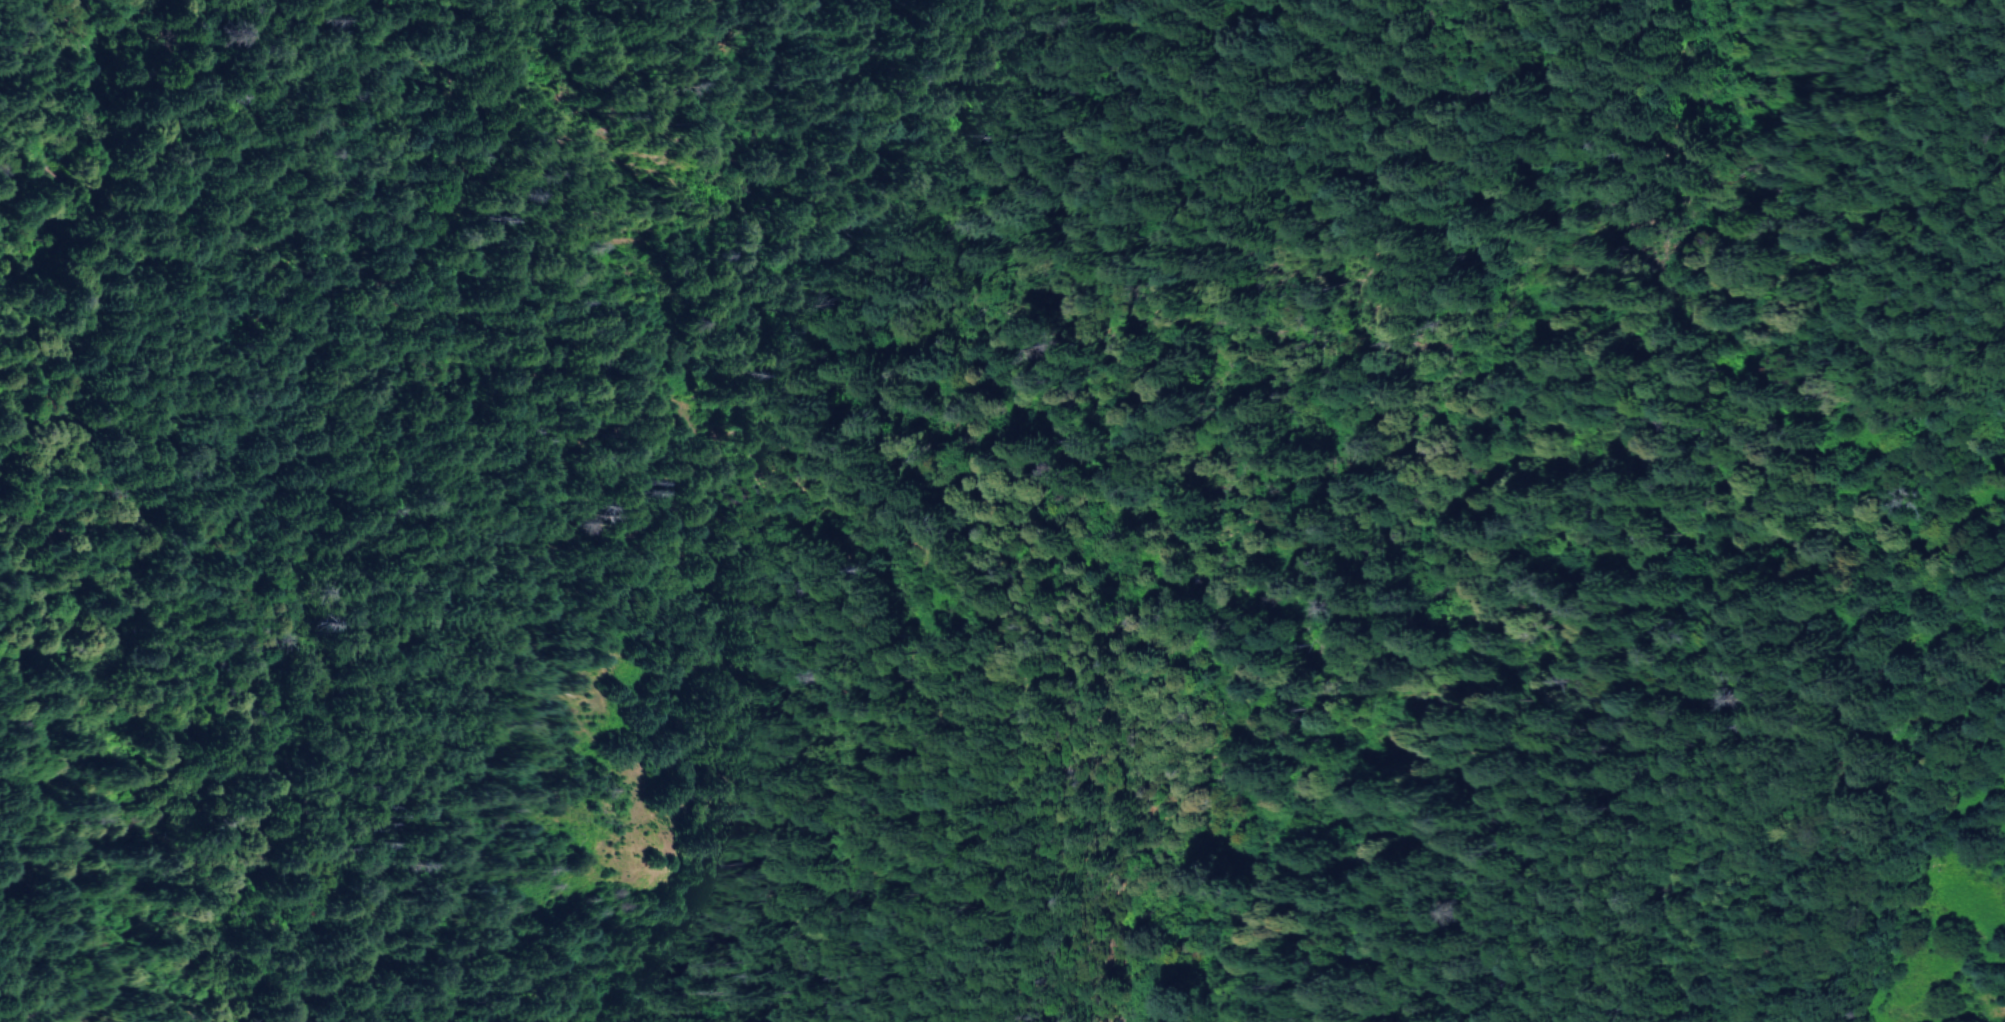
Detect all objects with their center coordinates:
road: (1984, 597)

